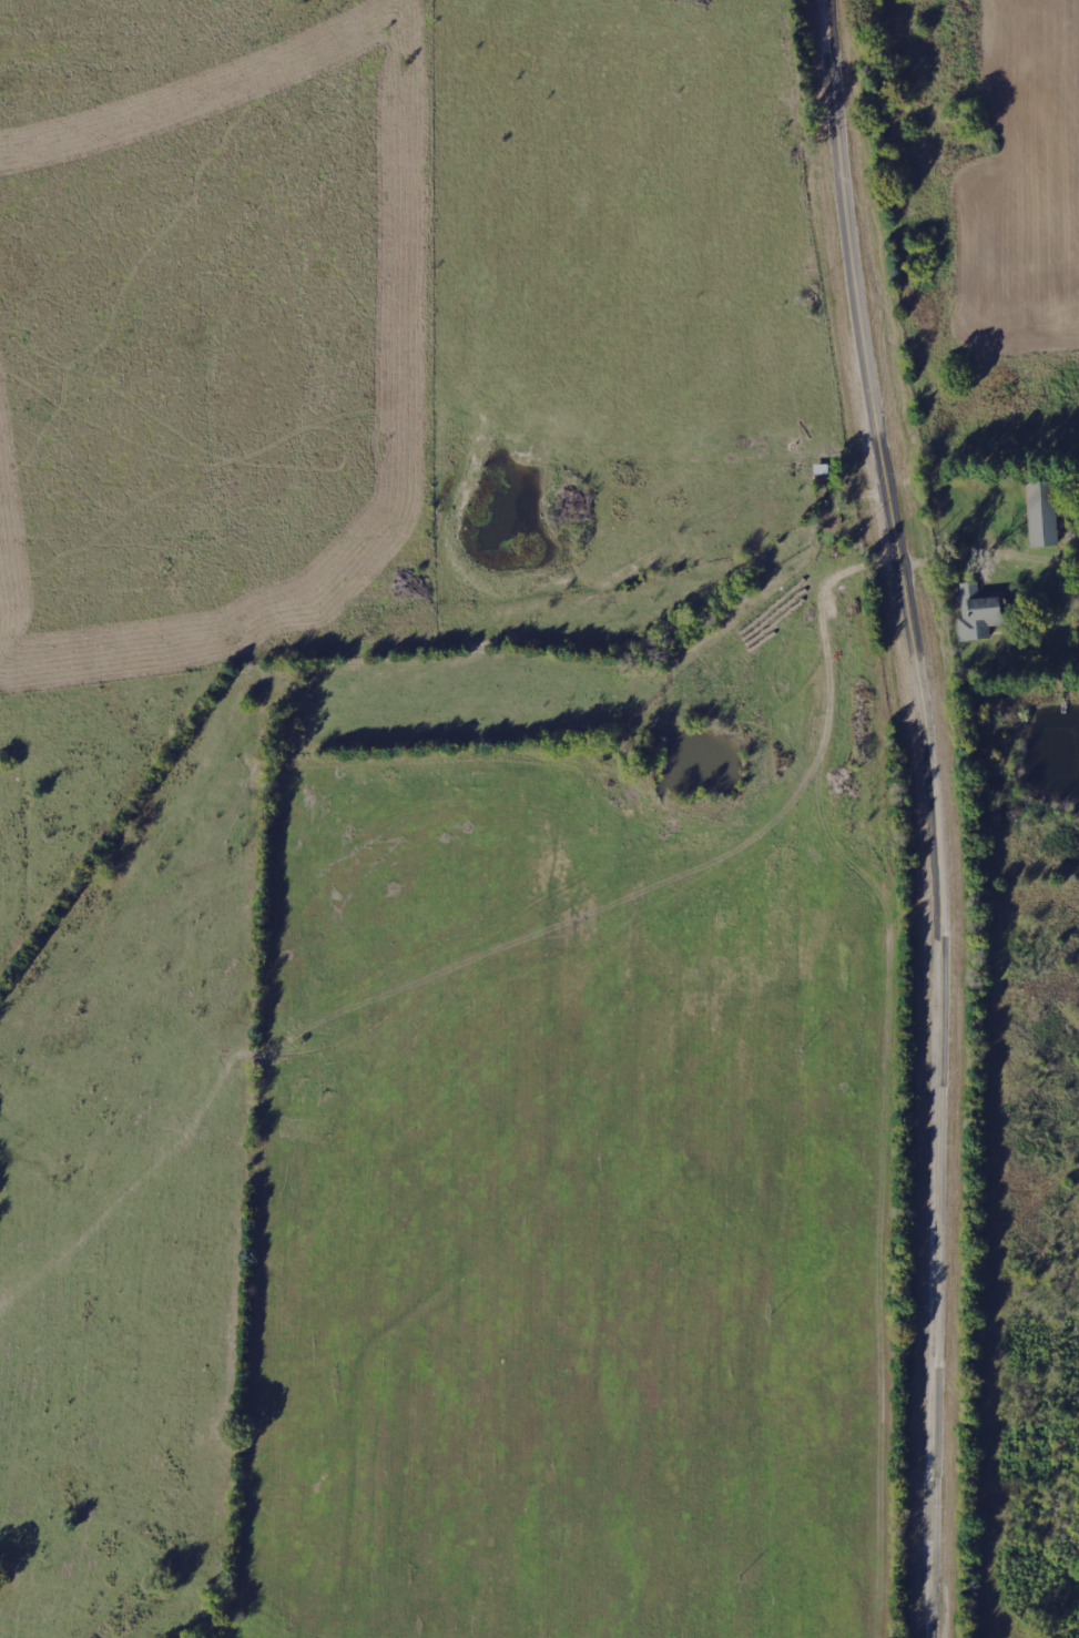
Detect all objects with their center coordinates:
building: (1041, 513)
road: (940, 815)
road: (611, 820)

